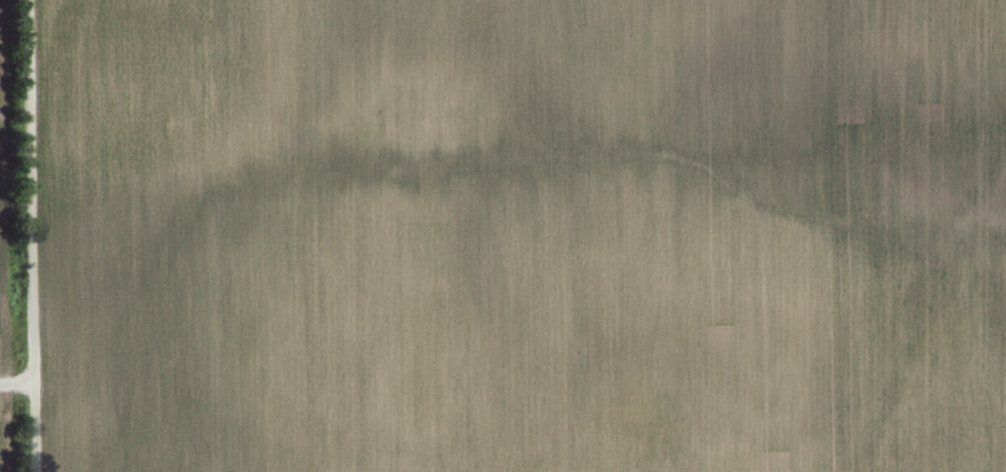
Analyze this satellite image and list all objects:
road: (33, 235)
road: (18, 384)

